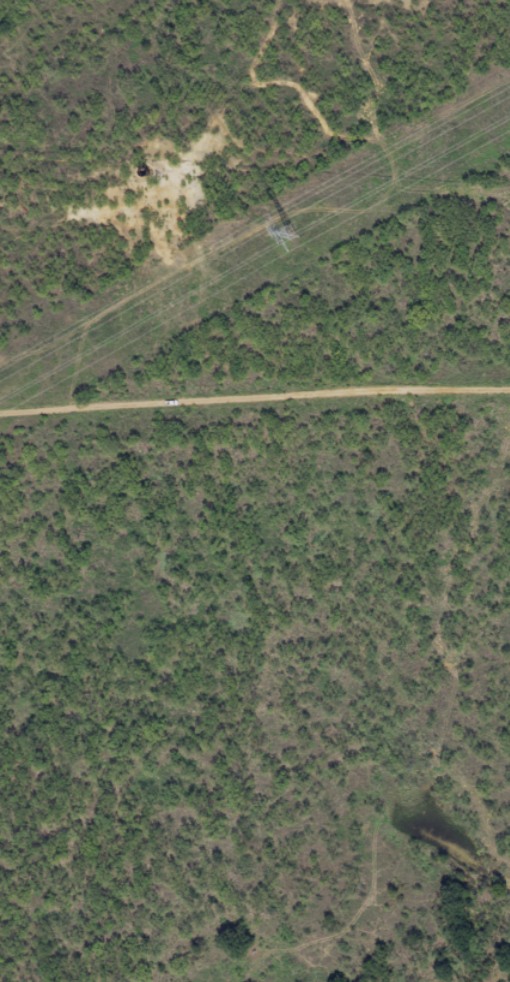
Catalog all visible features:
power tower: (291, 231)
road: (254, 407)

